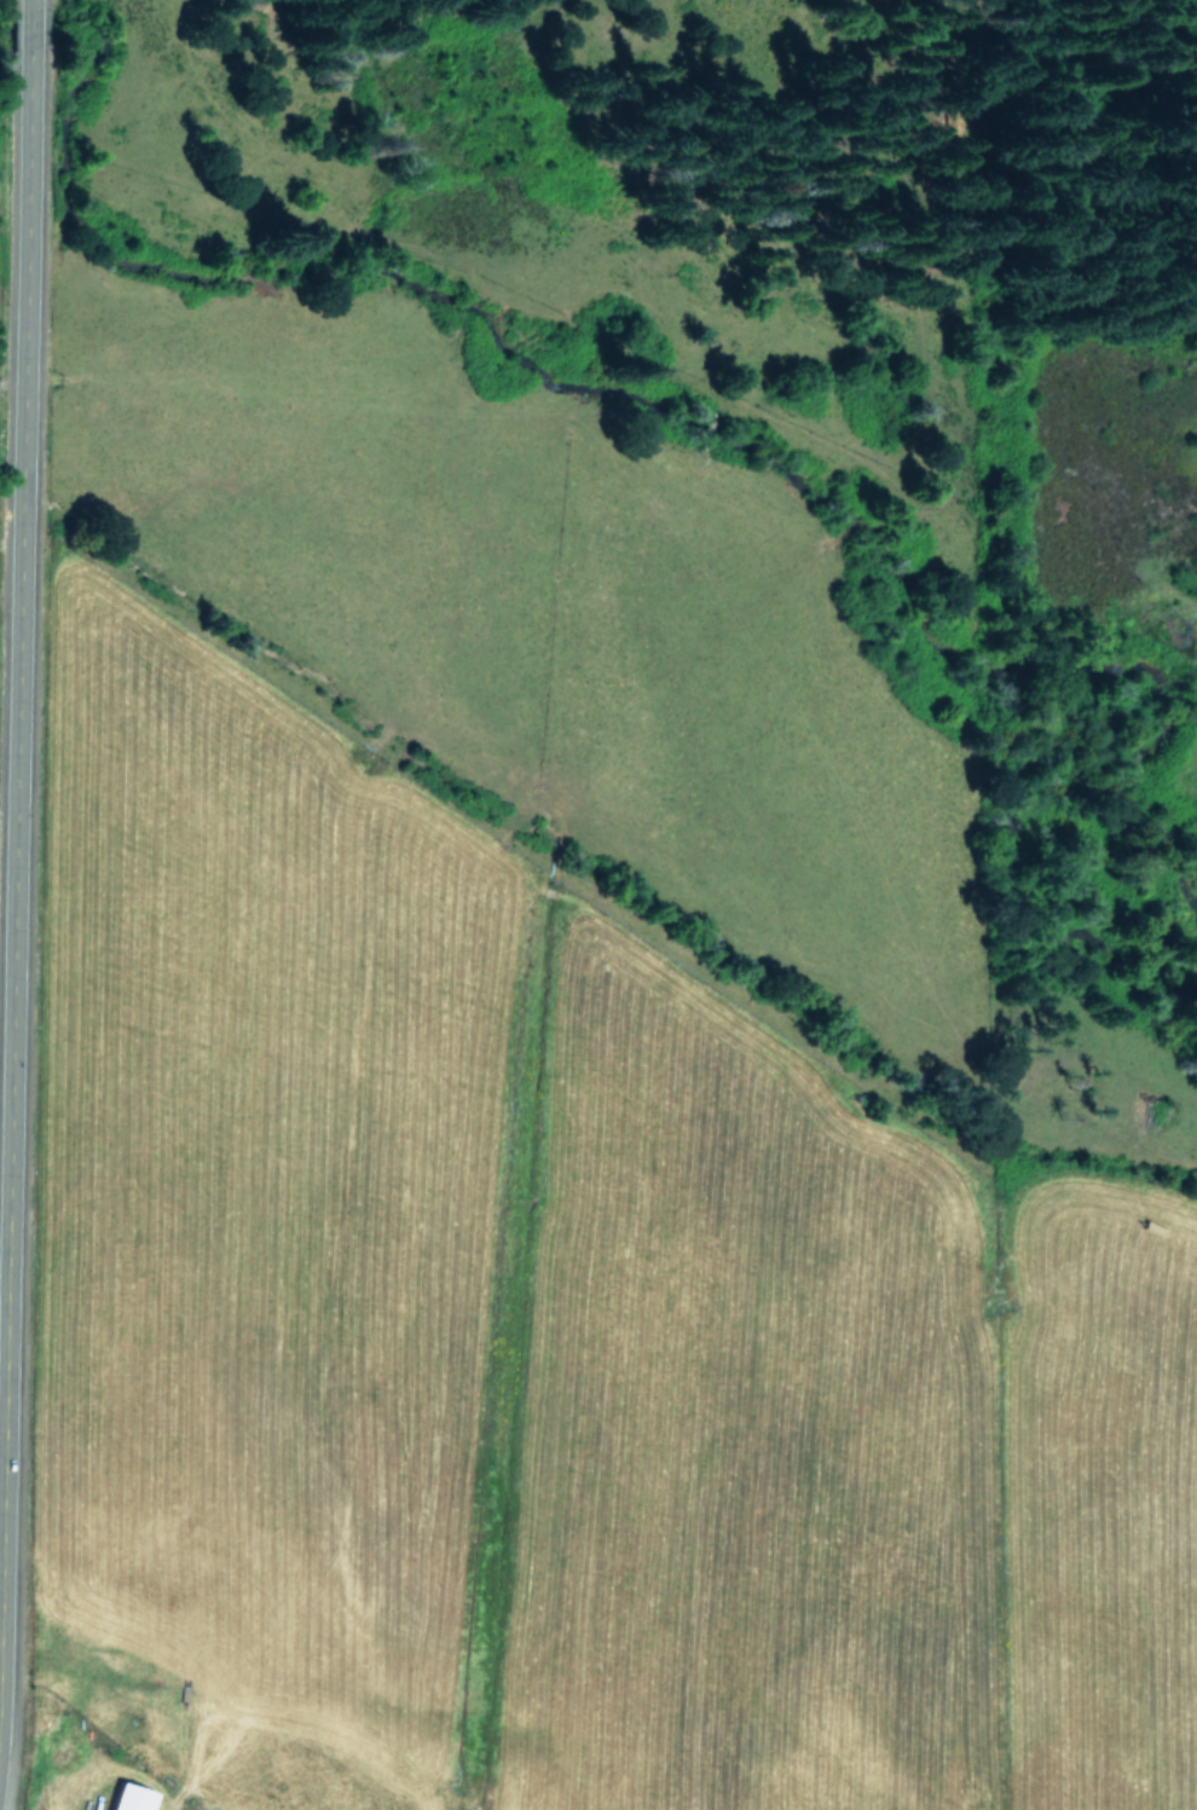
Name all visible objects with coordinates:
crop: (0, 498)
road: (22, 745)
crop: (536, 1175)
building: (134, 1797)

